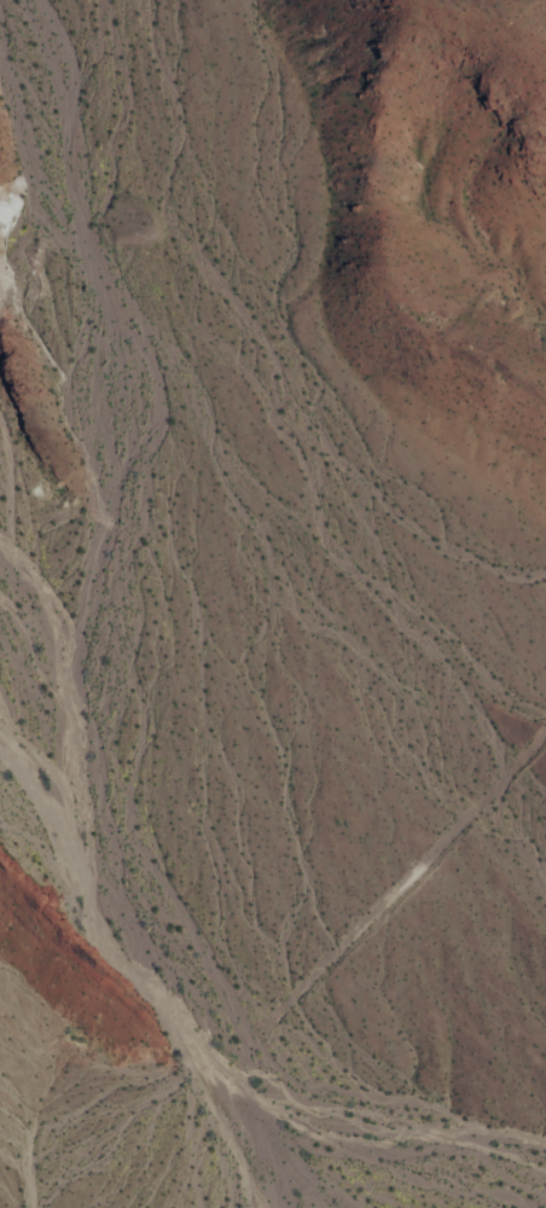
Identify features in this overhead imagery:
road: (348, 952)
road: (163, 1070)

